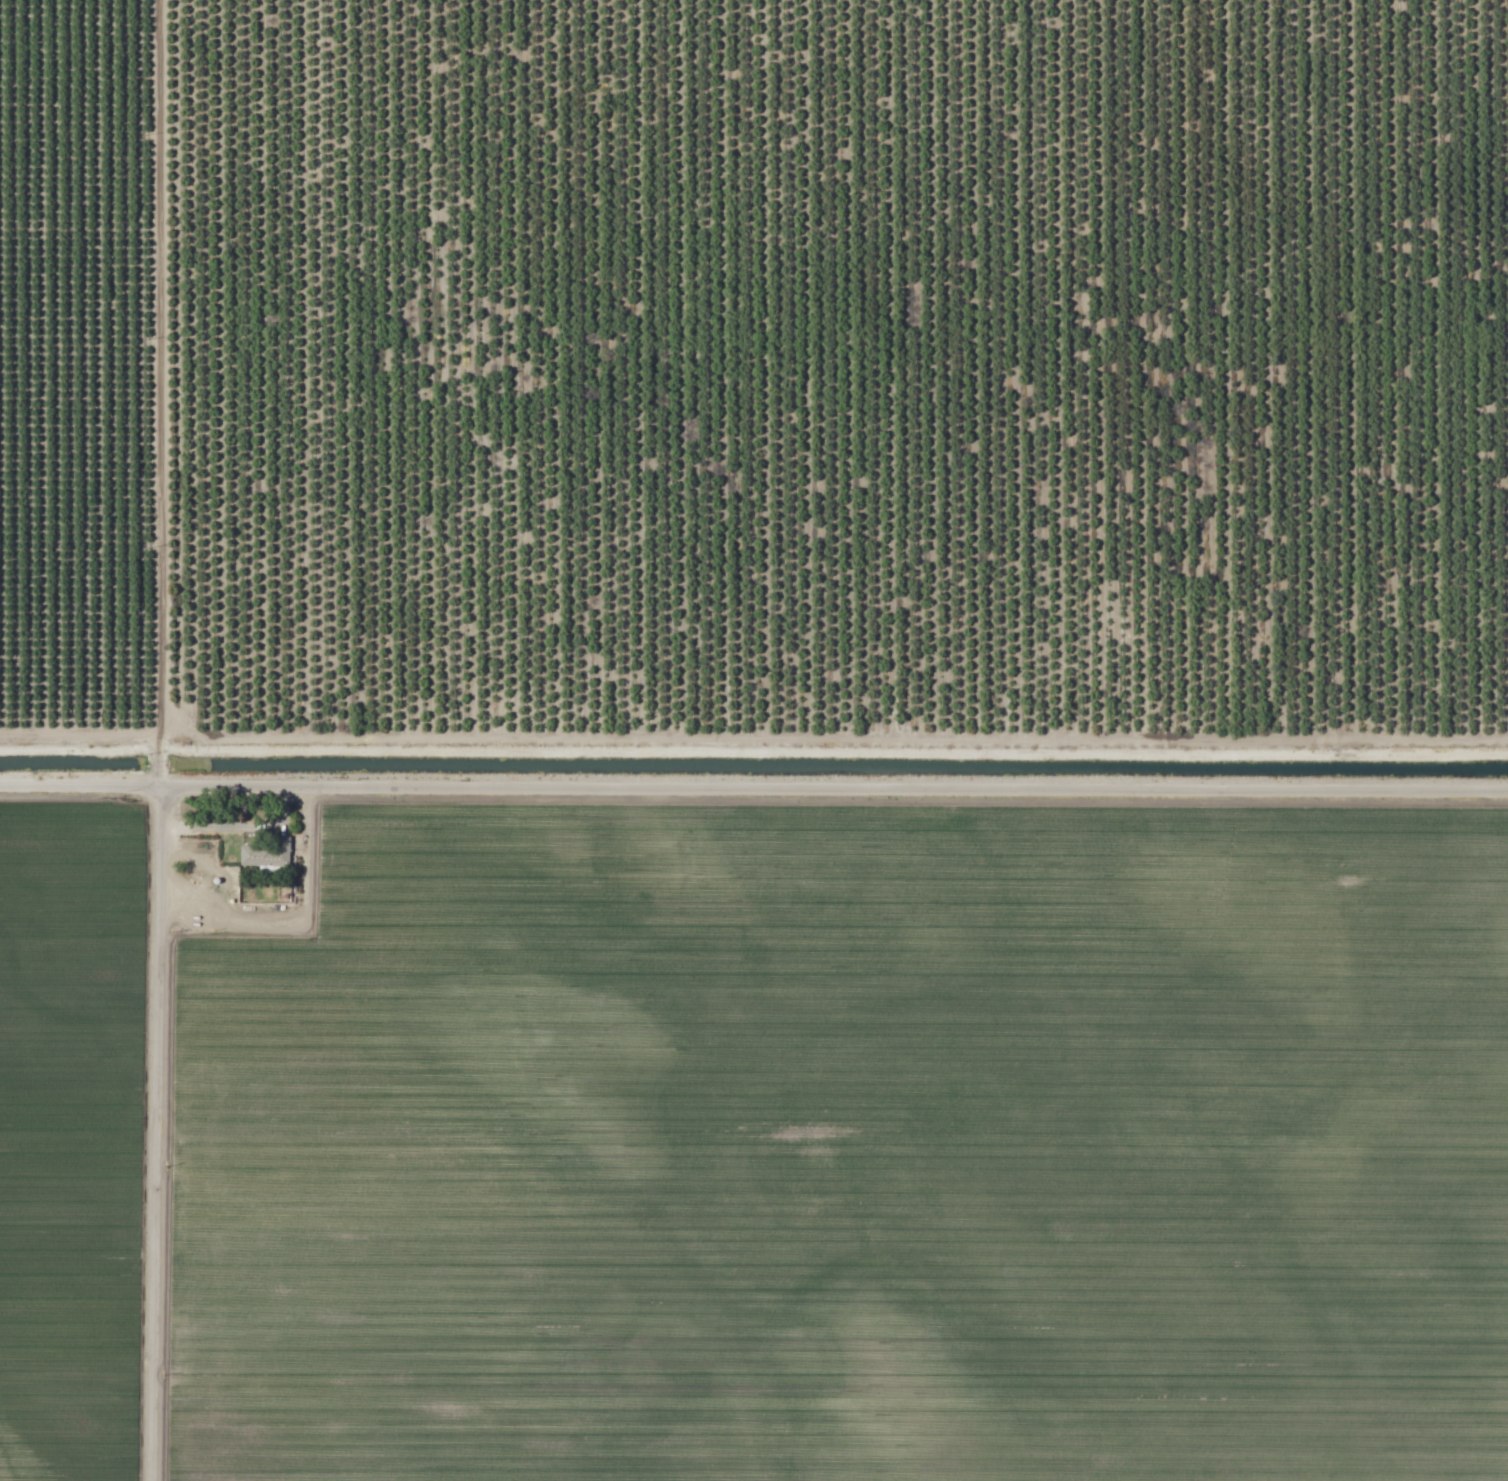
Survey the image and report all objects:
road: (163, 393)
road: (753, 789)
road: (156, 1134)
crop: (69, 1139)
crop: (849, 1148)

